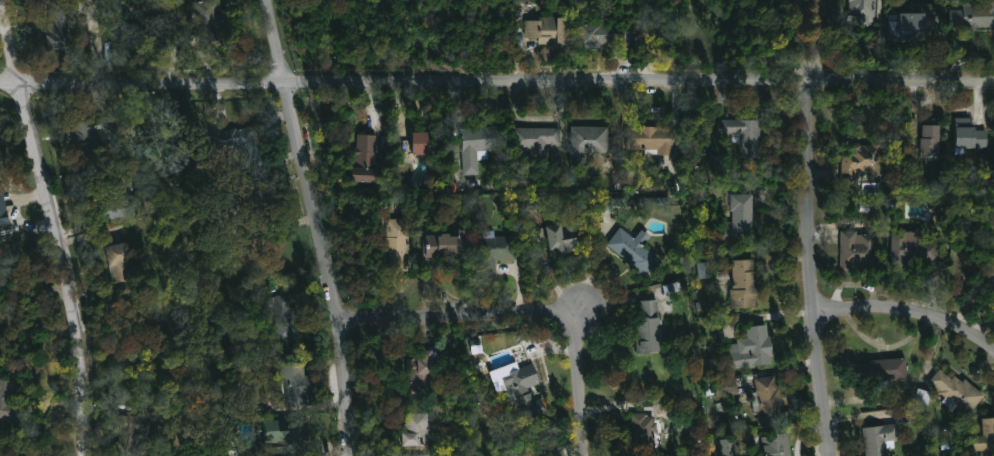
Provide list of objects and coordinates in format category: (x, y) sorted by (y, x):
building: (861, 12)
building: (976, 15)
building: (209, 19)
building: (917, 21)
building: (60, 25)
building: (554, 32)
building: (604, 35)
road: (805, 39)
road: (818, 39)
road: (497, 80)
building: (744, 135)
building: (924, 135)
building: (87, 136)
building: (537, 139)
building: (652, 139)
building: (972, 139)
building: (588, 142)
building: (237, 143)
building: (425, 144)
building: (479, 147)
building: (366, 159)
building: (863, 160)
building: (247, 193)
building: (117, 200)
building: (634, 201)
building: (3, 213)
building: (742, 217)
road: (54, 226)
road: (319, 226)
building: (563, 237)
building: (399, 239)
building: (446, 245)
building: (921, 247)
building: (857, 248)
building: (635, 250)
building: (496, 251)
building: (123, 263)
road: (813, 267)
building: (703, 270)
building: (991, 276)
building: (745, 283)
road: (524, 310)
road: (580, 310)
road: (908, 311)
road: (767, 316)
building: (285, 318)
building: (650, 328)
building: (753, 348)
building: (884, 367)
building: (422, 371)
building: (297, 384)
building: (727, 387)
building: (526, 388)
building: (958, 390)
building: (9, 398)
building: (769, 398)
building: (137, 428)
building: (418, 429)
building: (642, 433)
building: (288, 435)
building: (881, 437)
building: (987, 438)
building: (777, 444)
building: (529, 453)
building: (417, 454)

